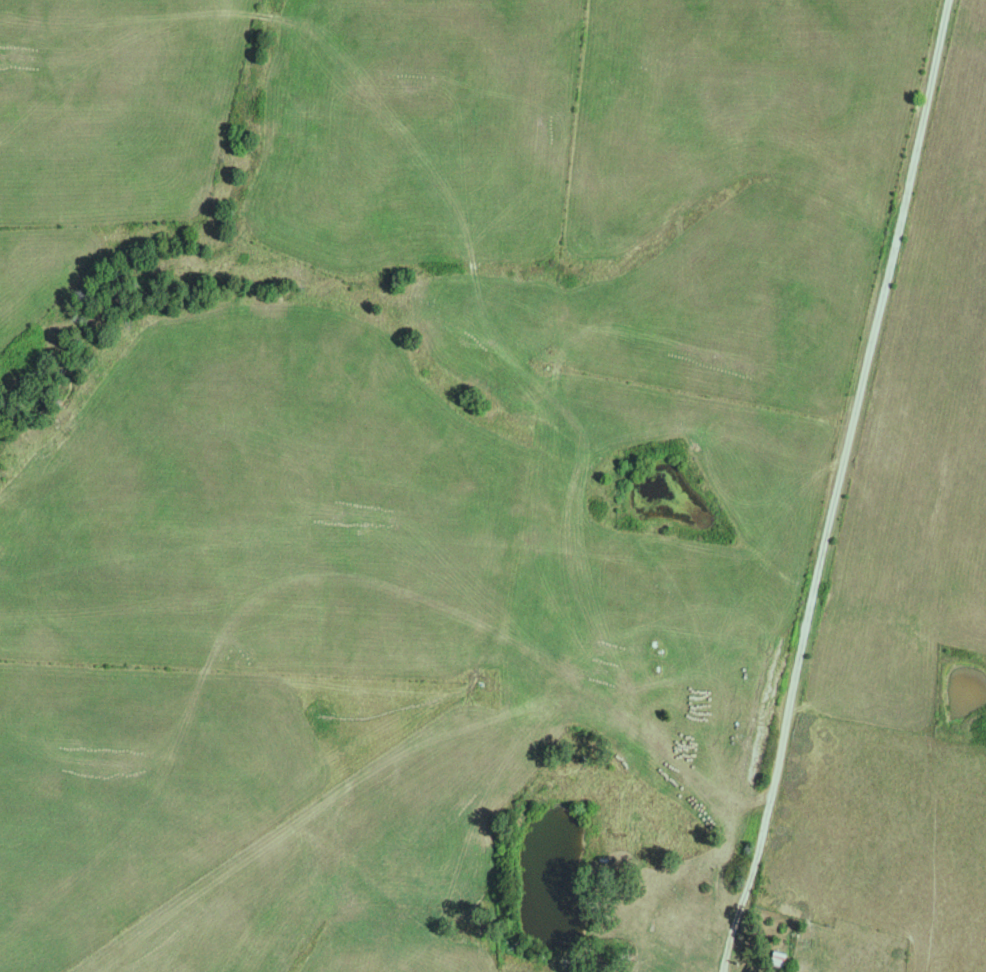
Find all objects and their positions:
road: (838, 486)

